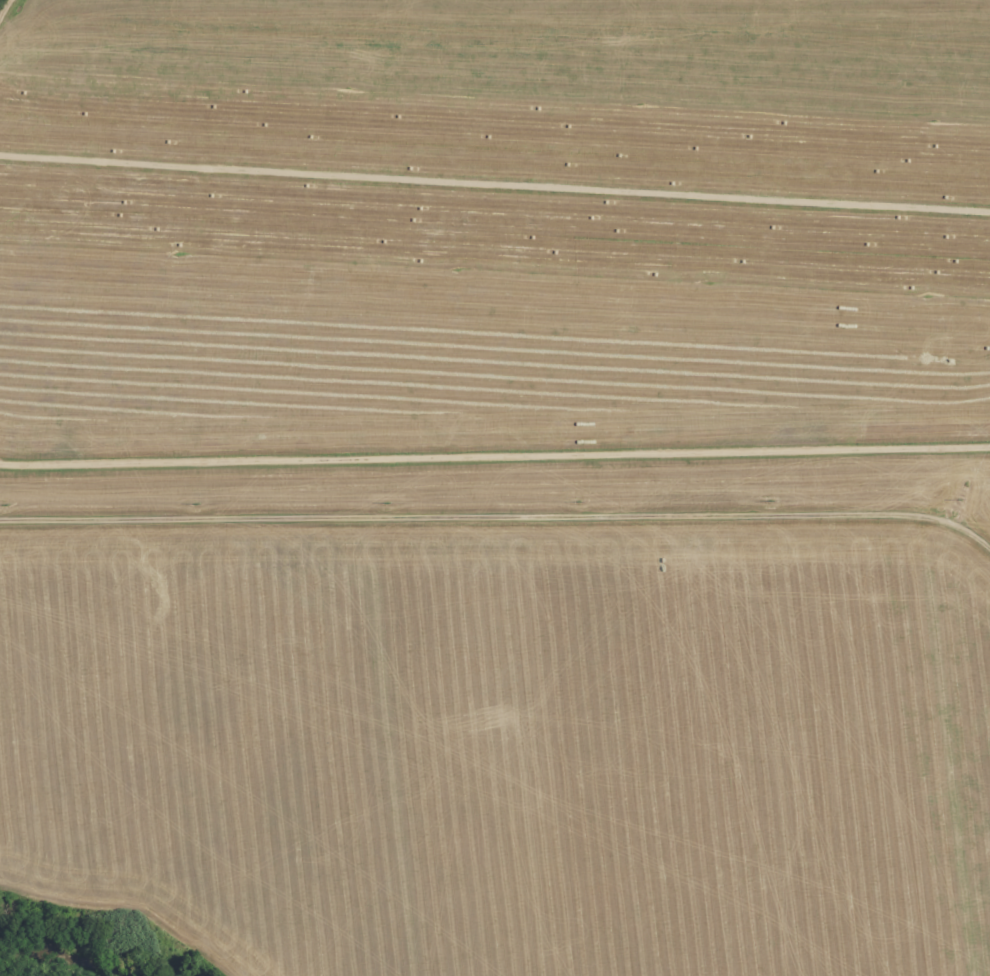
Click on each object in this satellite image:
road: (429, 325)

